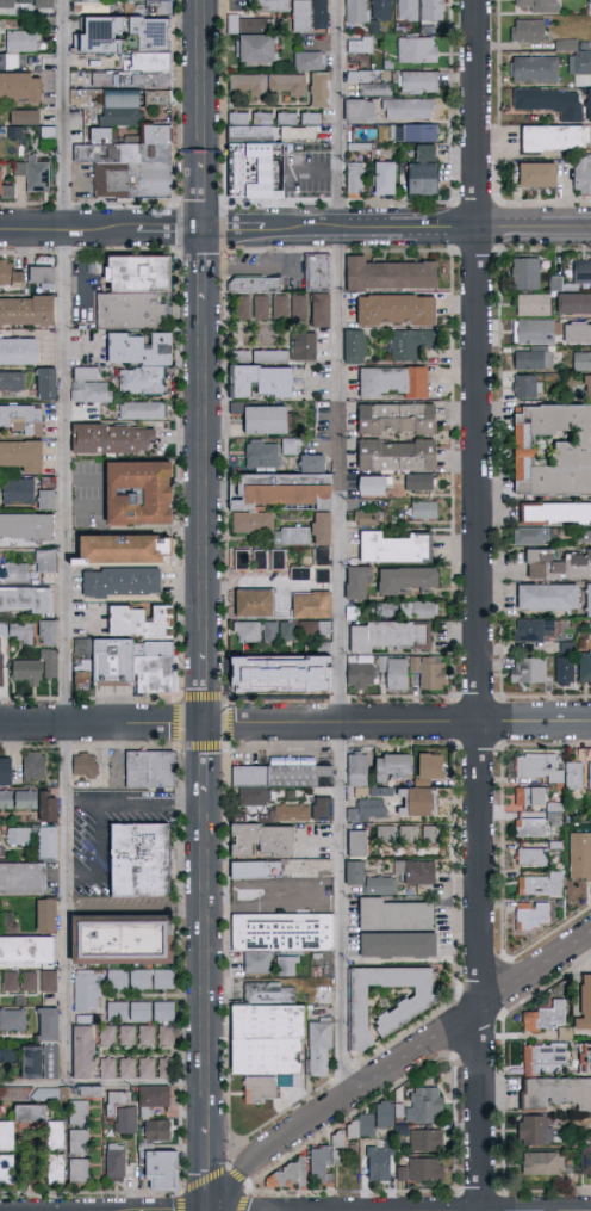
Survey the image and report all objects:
building: (24, 2)
building: (5, 5)
building: (42, 5)
building: (535, 5)
building: (270, 6)
building: (154, 8)
building: (382, 10)
building: (408, 11)
building: (433, 11)
building: (356, 12)
building: (310, 14)
building: (247, 24)
building: (524, 29)
building: (359, 44)
building: (562, 44)
building: (17, 47)
building: (256, 48)
building: (417, 50)
building: (309, 60)
building: (579, 61)
building: (530, 68)
road: (201, 80)
building: (367, 82)
building: (418, 82)
building: (286, 85)
building: (20, 86)
building: (248, 86)
building: (321, 91)
building: (80, 98)
building: (546, 101)
building: (585, 104)
building: (130, 106)
building: (391, 109)
building: (25, 117)
building: (298, 125)
building: (12, 130)
building: (48, 132)
building: (406, 132)
building: (547, 136)
building: (250, 154)
building: (423, 172)
building: (580, 172)
building: (533, 173)
building: (35, 174)
building: (355, 179)
building: (385, 179)
building: (6, 186)
road: (201, 196)
road: (295, 230)
road: (201, 266)
building: (580, 270)
building: (319, 272)
building: (521, 272)
building: (10, 274)
building: (388, 274)
building: (43, 277)
building: (552, 282)
building: (255, 284)
building: (135, 292)
building: (571, 302)
building: (529, 303)
building: (239, 305)
building: (261, 307)
building: (290, 307)
building: (321, 310)
building: (397, 310)
building: (26, 311)
building: (530, 330)
building: (574, 332)
building: (409, 344)
building: (304, 346)
building: (355, 347)
building: (18, 351)
building: (272, 356)
building: (529, 359)
building: (579, 359)
building: (142, 360)
road: (67, 362)
building: (12, 381)
building: (261, 382)
building: (393, 383)
building: (48, 384)
building: (524, 384)
building: (89, 385)
building: (585, 385)
building: (142, 410)
building: (397, 419)
building: (21, 420)
building: (267, 420)
building: (113, 439)
building: (290, 446)
building: (549, 449)
building: (261, 453)
building: (21, 455)
building: (397, 456)
building: (312, 462)
road: (203, 476)
building: (421, 482)
building: (374, 486)
building: (17, 492)
building: (139, 493)
building: (46, 499)
building: (284, 506)
building: (424, 509)
building: (552, 511)
building: (368, 517)
building: (26, 526)
building: (527, 535)
building: (581, 535)
building: (396, 548)
building: (126, 550)
road: (342, 551)
building: (260, 560)
building: (46, 561)
building: (537, 564)
building: (577, 564)
building: (14, 573)
building: (300, 573)
building: (321, 575)
building: (409, 580)
building: (122, 582)
building: (359, 582)
building: (542, 597)
building: (24, 599)
building: (586, 599)
building: (255, 603)
building: (312, 605)
road: (480, 605)
building: (386, 610)
building: (418, 610)
building: (141, 620)
building: (316, 629)
building: (529, 629)
building: (4, 630)
building: (267, 630)
building: (282, 630)
building: (245, 631)
building: (48, 632)
building: (21, 634)
building: (391, 635)
building: (154, 647)
building: (325, 649)
building: (113, 661)
building: (584, 667)
building: (37, 668)
building: (76, 669)
building: (524, 669)
building: (429, 672)
building: (394, 673)
building: (155, 674)
building: (561, 674)
building: (255, 675)
building: (305, 676)
building: (360, 676)
road: (204, 688)
road: (294, 724)
road: (204, 759)
building: (85, 765)
building: (431, 765)
building: (537, 766)
building: (32, 767)
building: (393, 767)
building: (150, 770)
building: (4, 772)
building: (359, 772)
building: (281, 773)
building: (574, 776)
building: (590, 776)
building: (253, 793)
building: (530, 796)
building: (5, 801)
building: (24, 801)
building: (417, 802)
road: (86, 805)
building: (45, 808)
building: (323, 809)
building: (368, 810)
building: (292, 811)
building: (552, 811)
road: (106, 813)
building: (531, 827)
building: (386, 834)
building: (409, 834)
building: (431, 834)
building: (17, 838)
building: (263, 840)
building: (46, 844)
building: (357, 844)
building: (531, 857)
building: (142, 860)
building: (581, 861)
building: (304, 869)
building: (257, 870)
building: (417, 872)
building: (355, 873)
building: (21, 879)
building: (540, 884)
building: (380, 885)
road: (66, 904)
building: (394, 915)
building: (533, 915)
building: (44, 917)
building: (279, 935)
building: (123, 940)
building: (398, 945)
building: (26, 952)
road: (204, 959)
building: (287, 965)
building: (164, 978)
building: (118, 980)
building: (142, 980)
building: (8, 984)
building: (27, 984)
building: (48, 984)
building: (86, 991)
building: (323, 995)
building: (585, 1003)
building: (117, 1011)
building: (141, 1011)
building: (164, 1012)
building: (404, 1012)
building: (547, 1017)
building: (12, 1024)
building: (45, 1026)
building: (107, 1036)
building: (126, 1036)
building: (148, 1036)
building: (166, 1036)
building: (267, 1039)
building: (321, 1048)
building: (83, 1052)
building: (7, 1056)
building: (545, 1056)
building: (584, 1057)
building: (49, 1059)
building: (30, 1063)
building: (166, 1067)
building: (107, 1068)
building: (127, 1068)
building: (147, 1068)
road: (396, 1068)
road: (102, 1082)
building: (89, 1092)
building: (556, 1093)
building: (33, 1094)
building: (153, 1099)
building: (114, 1102)
building: (424, 1105)
building: (27, 1112)
building: (77, 1112)
building: (385, 1113)
building: (125, 1120)
building: (362, 1126)
building: (536, 1130)
building: (161, 1131)
building: (54, 1136)
building: (6, 1137)
building: (427, 1141)
building: (77, 1142)
building: (324, 1160)
building: (585, 1162)
building: (379, 1163)
building: (543, 1163)
building: (114, 1166)
road: (206, 1168)
building: (55, 1169)
building: (422, 1169)
building: (162, 1170)
building: (6, 1172)
building: (77, 1172)
building: (288, 1175)

